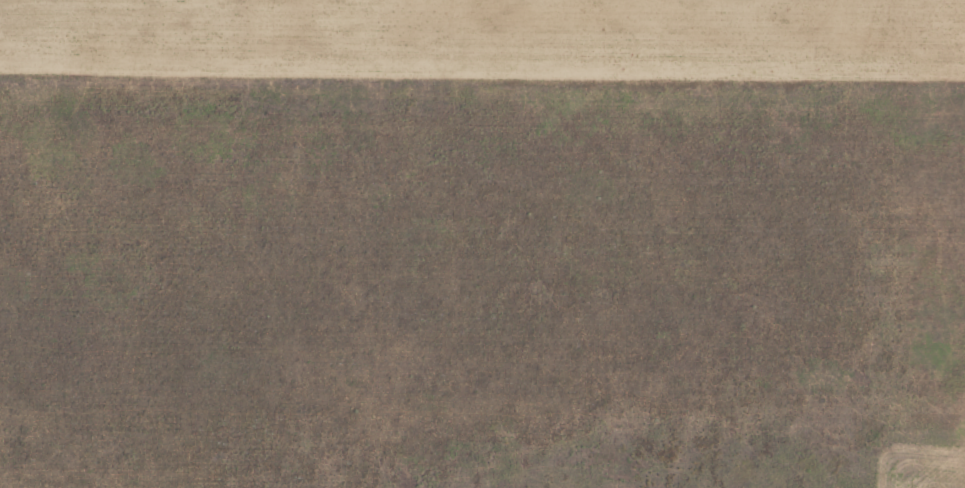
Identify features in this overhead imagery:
crop: (482, 244)

